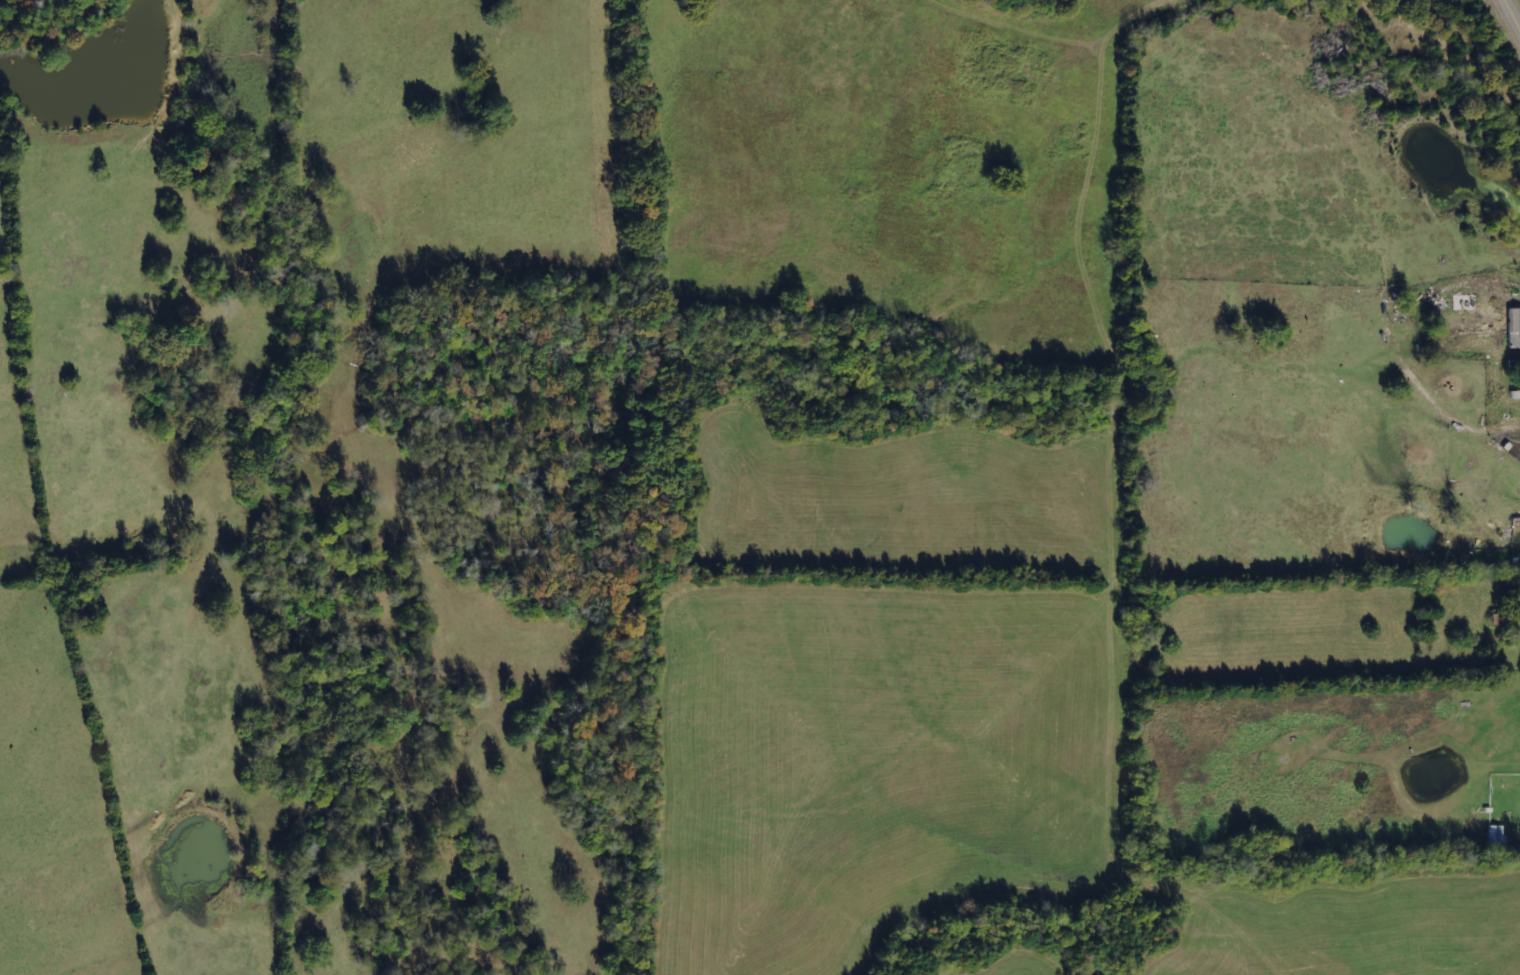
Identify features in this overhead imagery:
park: (27, 12)
road: (1511, 18)
building: (1513, 326)
building: (1497, 837)

